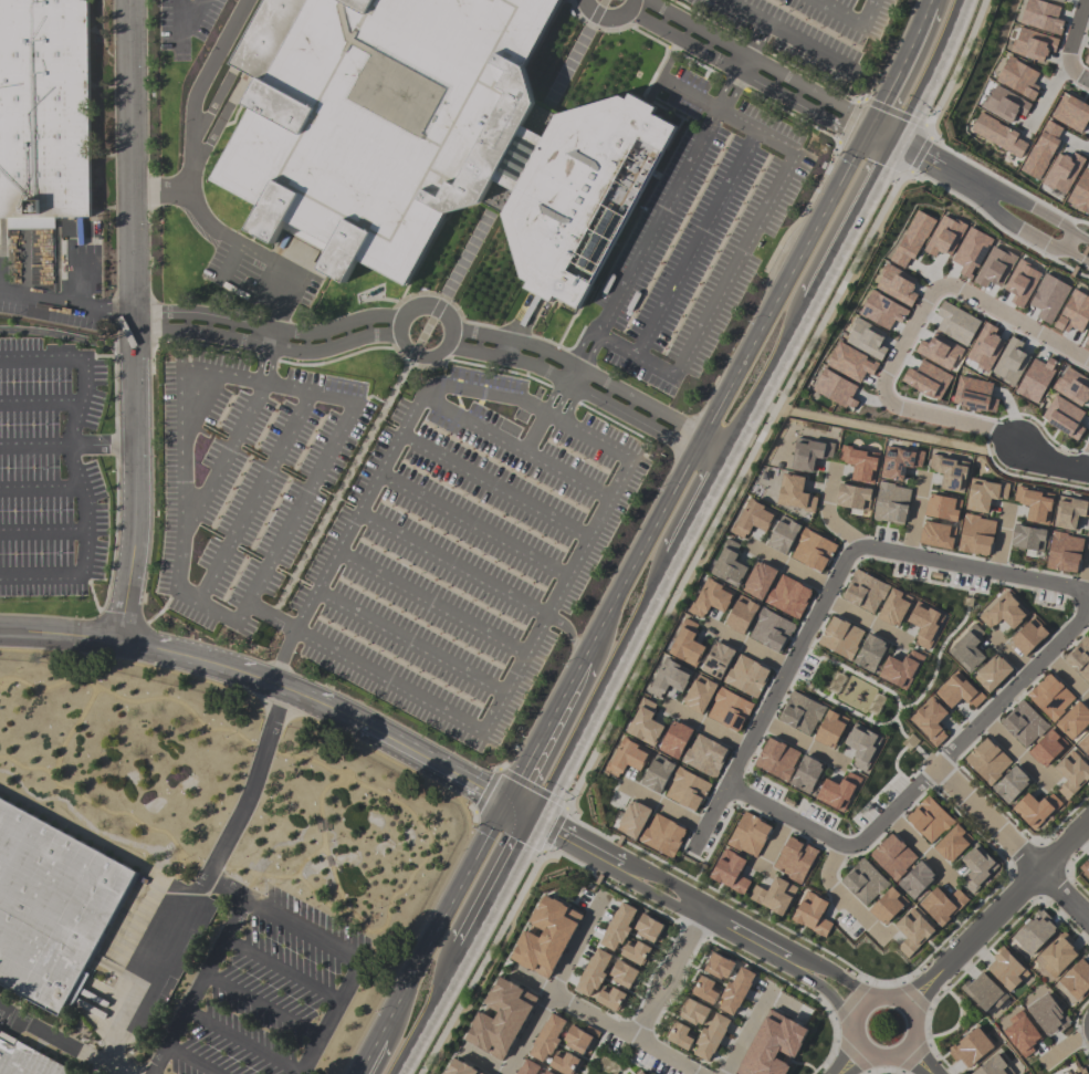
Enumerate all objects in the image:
building: (1058, 0)
road: (608, 11)
road: (835, 13)
road: (867, 14)
building: (1040, 15)
road: (180, 39)
building: (1033, 44)
road: (1069, 46)
building: (1087, 59)
road: (757, 61)
road: (566, 66)
road: (930, 71)
road: (737, 72)
building: (1018, 77)
road: (669, 85)
road: (1047, 100)
building: (1004, 104)
building: (44, 113)
building: (1070, 113)
road: (191, 117)
building: (419, 134)
building: (998, 134)
road: (1080, 145)
building: (1041, 149)
road: (920, 157)
building: (1062, 171)
road: (130, 173)
building: (1081, 191)
road: (1025, 206)
road: (662, 211)
road: (854, 216)
road: (1014, 226)
building: (944, 236)
building: (912, 238)
road: (1081, 238)
road: (692, 240)
road: (1069, 243)
building: (971, 251)
road: (263, 254)
road: (1076, 257)
road: (733, 265)
building: (994, 268)
building: (1022, 283)
building: (896, 284)
building: (1048, 298)
road: (63, 303)
building: (881, 310)
building: (1074, 312)
building: (956, 322)
road: (911, 325)
road: (264, 327)
road: (56, 333)
road: (453, 337)
building: (1087, 337)
building: (866, 338)
road: (121, 345)
road: (263, 346)
building: (984, 346)
building: (939, 352)
road: (84, 361)
building: (849, 361)
building: (1011, 362)
road: (259, 364)
road: (272, 367)
road: (594, 376)
road: (765, 377)
building: (928, 379)
building: (1036, 379)
building: (1072, 386)
building: (835, 387)
road: (587, 394)
building: (974, 394)
road: (551, 396)
road: (386, 399)
road: (561, 400)
road: (722, 403)
road: (570, 406)
road: (415, 413)
building: (1064, 416)
road: (891, 432)
road: (103, 445)
building: (809, 453)
road: (1049, 459)
road: (325, 461)
building: (899, 461)
building: (860, 462)
building: (950, 472)
road: (115, 481)
road: (135, 493)
building: (794, 493)
building: (984, 493)
building: (854, 497)
road: (698, 503)
building: (891, 503)
building: (1035, 503)
building: (942, 507)
building: (1069, 512)
road: (827, 515)
road: (914, 515)
building: (752, 518)
building: (783, 534)
building: (936, 534)
building: (975, 534)
building: (1028, 536)
road: (1001, 541)
road: (83, 550)
building: (813, 550)
building: (1064, 552)
building: (729, 564)
road: (789, 566)
road: (973, 567)
road: (1087, 575)
building: (758, 580)
building: (865, 591)
building: (788, 596)
building: (710, 597)
building: (893, 606)
building: (1004, 612)
building: (740, 614)
road: (863, 618)
building: (924, 623)
building: (771, 630)
road: (100, 634)
building: (1028, 636)
building: (840, 637)
building: (687, 644)
road: (748, 646)
road: (331, 648)
building: (967, 648)
building: (870, 653)
road: (1013, 655)
road: (283, 657)
building: (1080, 657)
building: (716, 659)
building: (900, 668)
building: (992, 671)
building: (746, 676)
road: (1068, 677)
building: (669, 678)
road: (605, 679)
road: (262, 680)
building: (835, 682)
road: (1020, 684)
building: (959, 691)
building: (699, 694)
road: (772, 696)
building: (1050, 697)
building: (873, 703)
building: (729, 709)
building: (800, 712)
road: (305, 715)
building: (930, 720)
building: (1074, 720)
building: (645, 723)
building: (1024, 723)
road: (705, 726)
building: (830, 728)
building: (674, 739)
road: (798, 740)
building: (1085, 744)
building: (861, 745)
building: (1047, 748)
road: (1014, 751)
building: (704, 755)
building: (626, 757)
building: (776, 759)
building: (987, 761)
building: (657, 773)
building: (806, 773)
building: (1071, 773)
building: (1011, 784)
building: (687, 789)
building: (837, 791)
traffic signals: (504, 800)
road: (663, 806)
building: (1035, 807)
road: (519, 809)
road: (892, 812)
road: (782, 815)
traffic signals: (533, 817)
building: (632, 818)
road: (988, 818)
building: (929, 820)
building: (748, 834)
building: (662, 835)
road: (565, 837)
building: (952, 843)
road: (771, 844)
road: (918, 844)
building: (892, 856)
building: (794, 859)
building: (976, 867)
building: (1085, 867)
building: (729, 872)
road: (655, 875)
road: (202, 879)
building: (915, 879)
building: (863, 882)
road: (499, 885)
road: (646, 891)
building: (774, 895)
road: (840, 895)
road: (1064, 896)
building: (942, 904)
building: (888, 905)
building: (52, 910)
building: (811, 914)
road: (995, 914)
road: (440, 919)
building: (618, 926)
building: (648, 928)
building: (912, 931)
building: (1034, 931)
building: (545, 936)
road: (687, 937)
road: (743, 937)
road: (336, 948)
building: (636, 951)
building: (1058, 955)
building: (719, 966)
building: (1007, 969)
building: (593, 972)
building: (624, 973)
road: (833, 973)
road: (657, 976)
building: (1076, 979)
road: (671, 982)
road: (531, 983)
road: (554, 983)
building: (705, 989)
building: (735, 990)
road: (825, 990)
building: (983, 992)
road: (191, 998)
building: (610, 998)
road: (783, 1005)
road: (862, 1008)
building: (693, 1012)
road: (430, 1013)
building: (1048, 1014)
building: (500, 1018)
road: (643, 1018)
road: (745, 1030)
road: (626, 1033)
building: (1022, 1033)
building: (680, 1035)
building: (711, 1036)
building: (547, 1037)
road: (390, 1039)
building: (577, 1039)
road: (63, 1041)
building: (772, 1044)
road: (1065, 1046)
building: (971, 1047)
road: (367, 1056)
building: (25, 1060)
road: (918, 1060)
road: (851, 1061)
road: (159, 1062)
road: (480, 1063)
building: (564, 1063)
building: (994, 1066)
building: (526, 1067)
building: (459, 1068)
building: (1079, 1071)
building: (547, 1072)
building: (641, 1073)
building: (1069, 1073)

